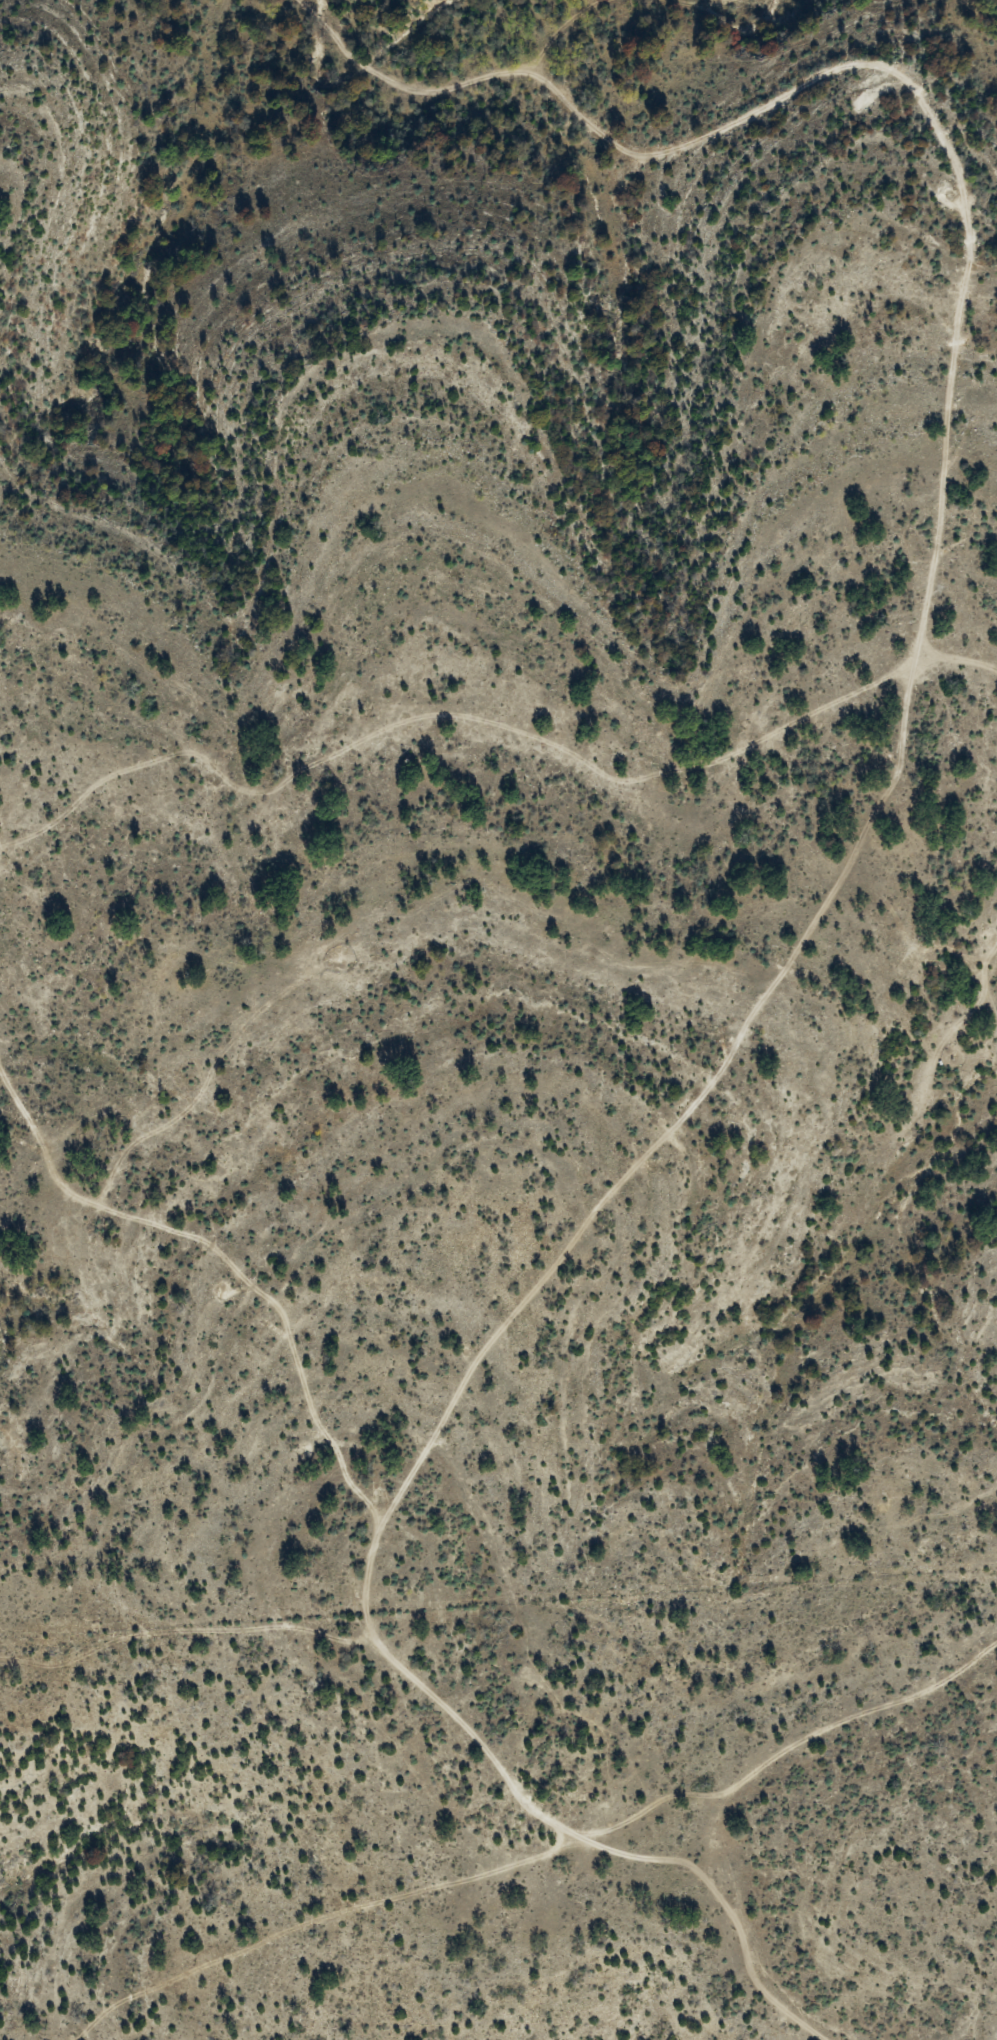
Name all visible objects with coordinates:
road: (857, 867)

